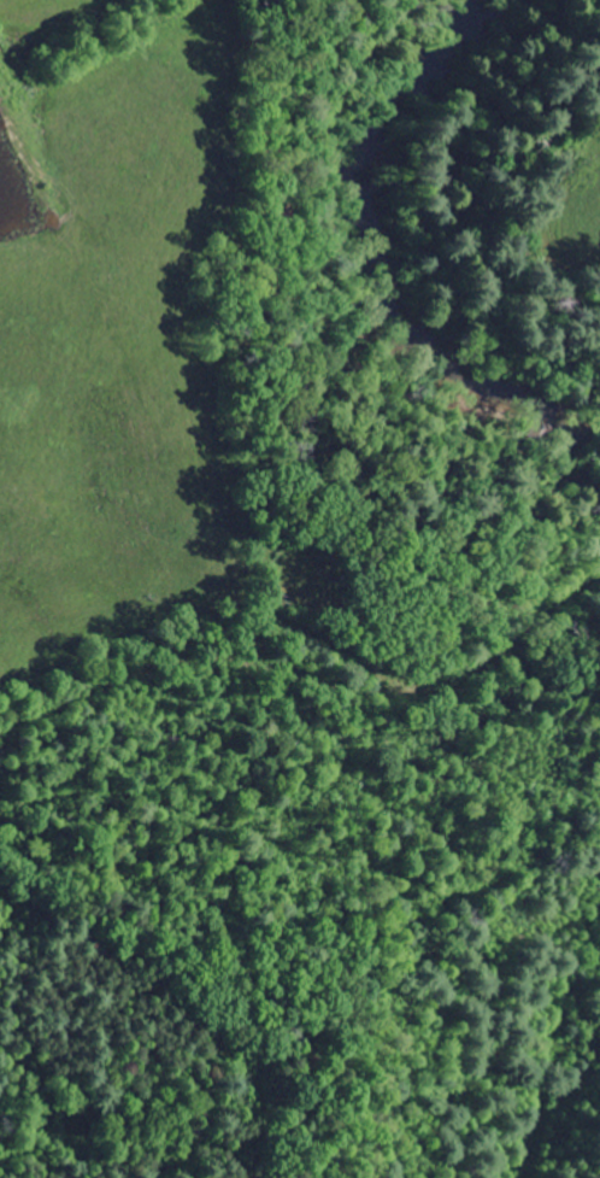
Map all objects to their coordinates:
river: (378, 259)

